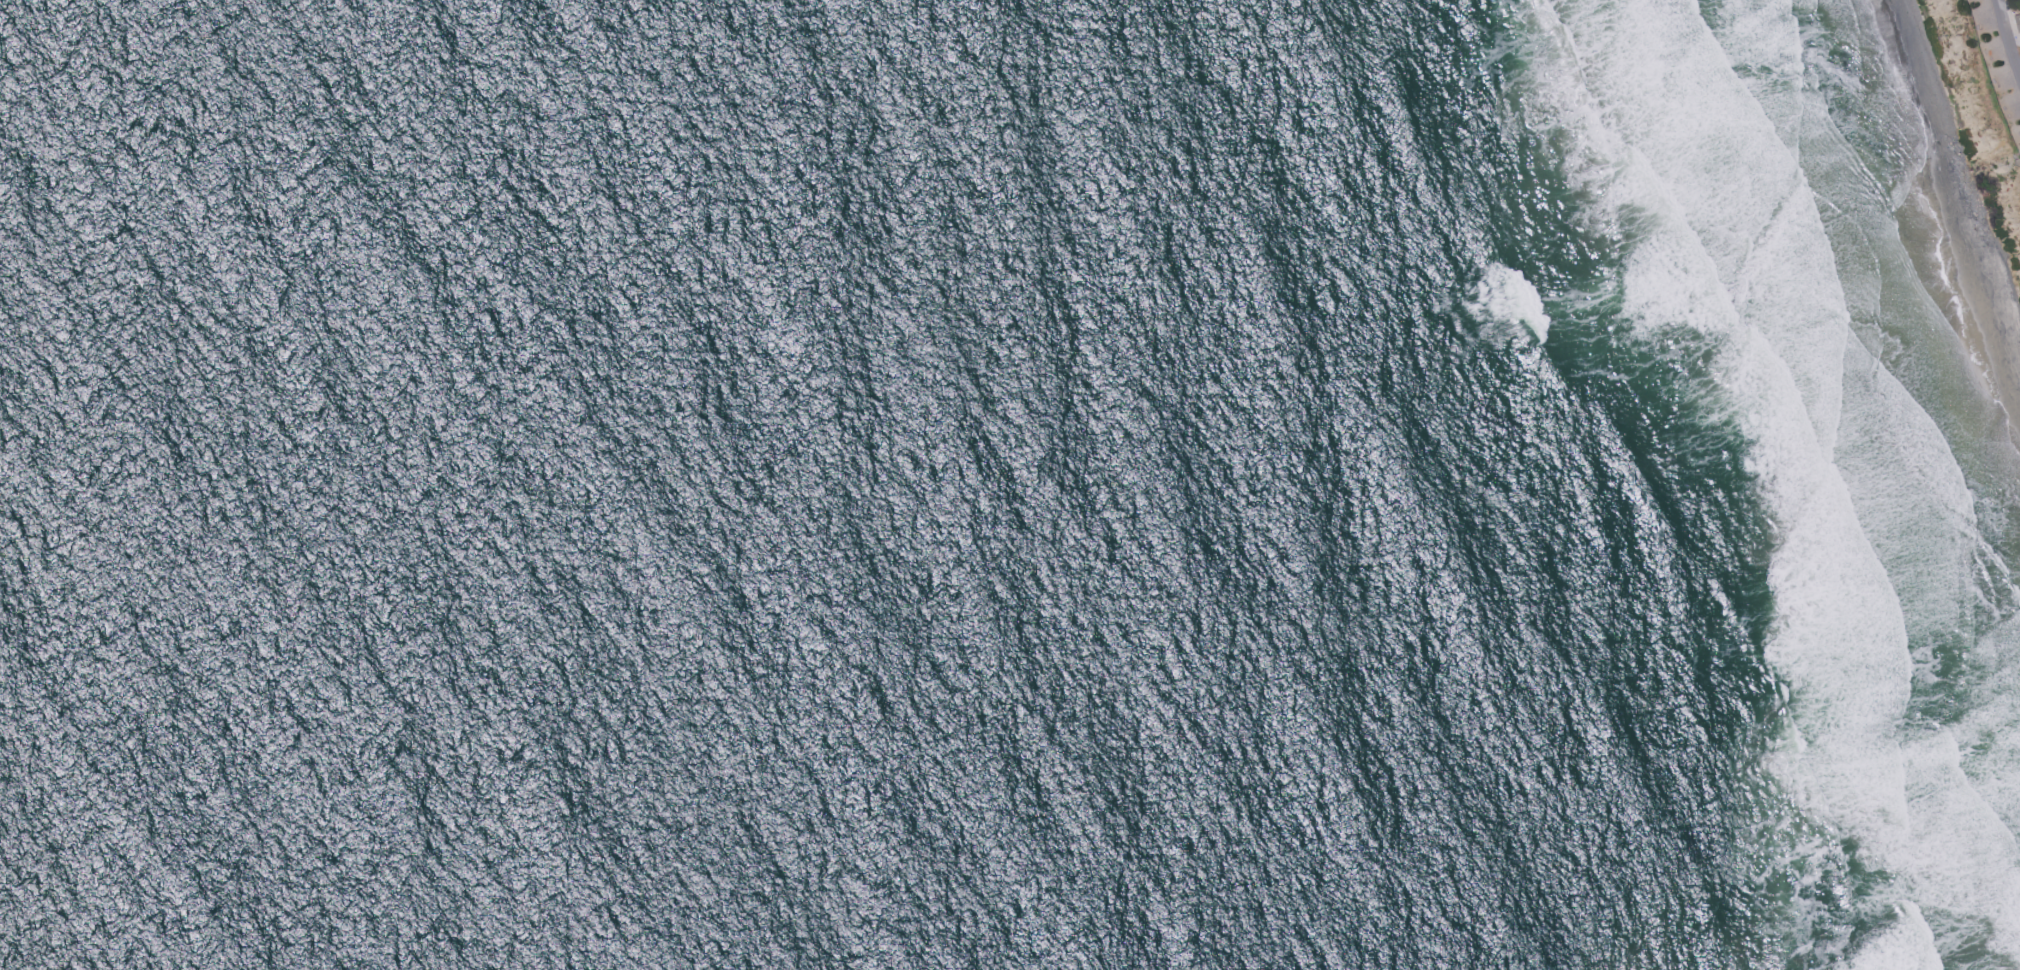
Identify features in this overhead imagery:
building: (2016, 22)
road: (2006, 39)

